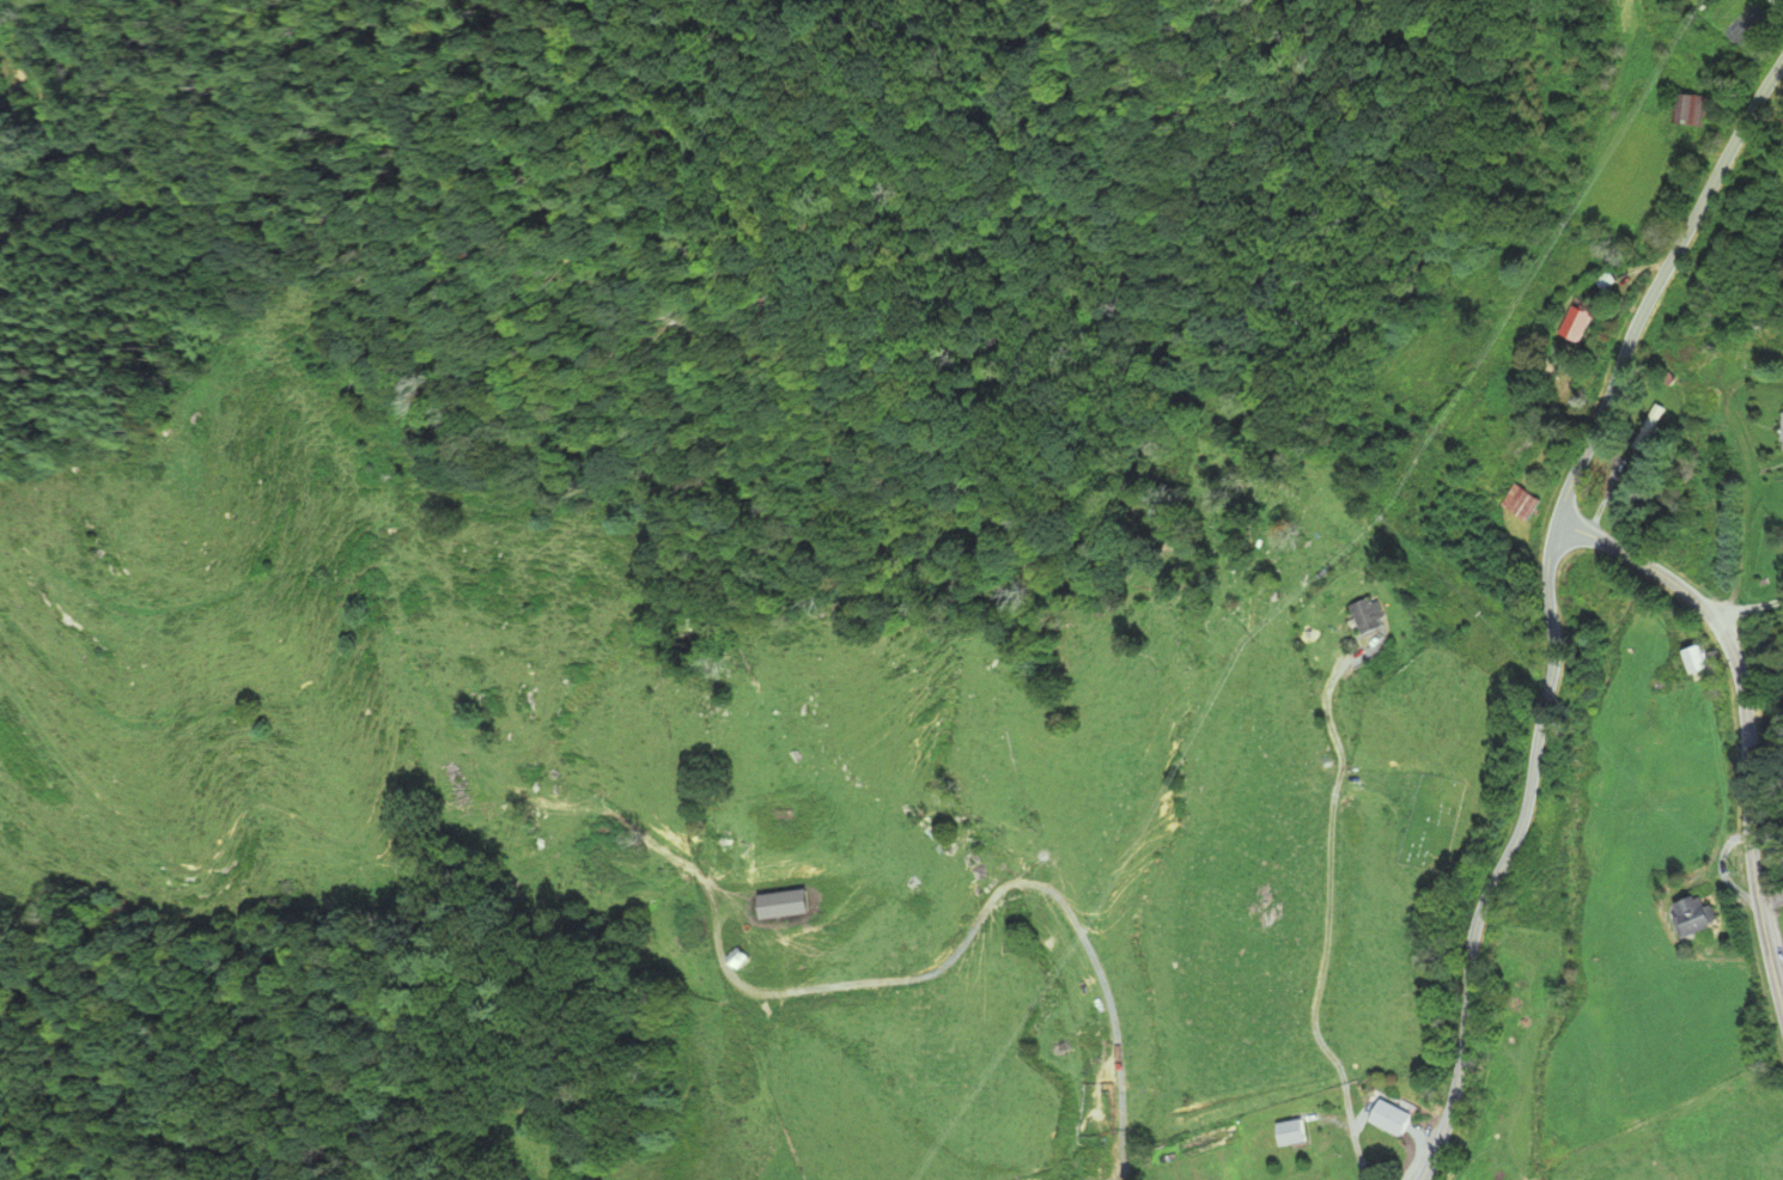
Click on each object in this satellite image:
building: (1690, 109)
building: (1607, 281)
building: (1575, 324)
building: (1650, 426)
building: (1782, 426)
road: (1748, 475)
building: (1528, 504)
road: (1547, 606)
building: (1363, 618)
building: (1697, 662)
road: (1745, 719)
road: (1326, 902)
building: (1698, 916)
building: (738, 957)
building: (1388, 1118)
building: (1292, 1133)

